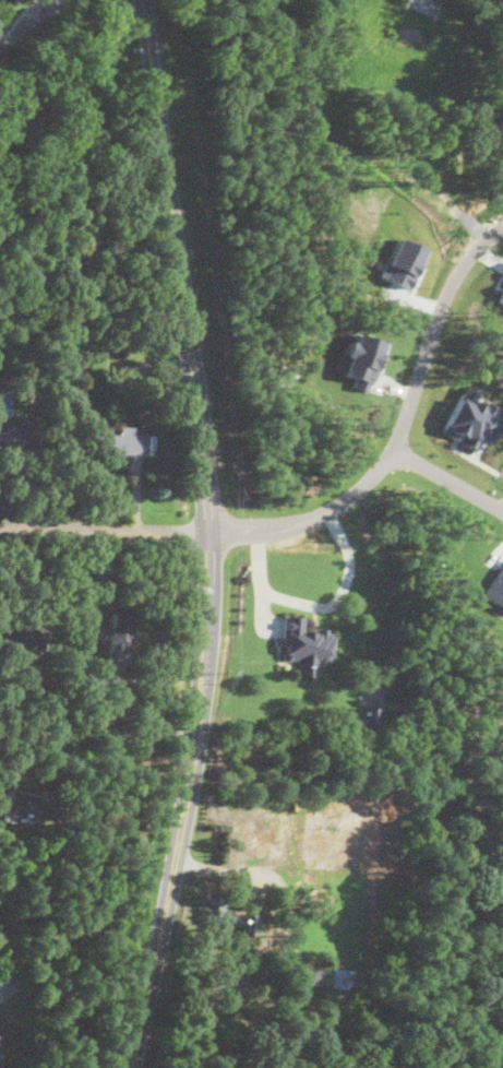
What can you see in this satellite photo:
crop: (172, 3)
park: (5, 5)
road: (24, 20)
building: (38, 209)
building: (81, 251)
building: (500, 294)
building: (359, 358)
building: (89, 364)
building: (139, 370)
building: (469, 418)
road: (202, 428)
road: (404, 434)
building: (13, 437)
building: (121, 441)
road: (452, 478)
road: (101, 527)
road: (60, 585)
building: (495, 588)
road: (318, 604)
building: (119, 634)
building: (19, 640)
building: (304, 645)
building: (0, 696)
building: (369, 714)
building: (45, 751)
building: (29, 805)
road: (255, 870)
building: (228, 913)
road: (152, 963)
building: (314, 973)
building: (340, 975)
building: (0, 1060)

